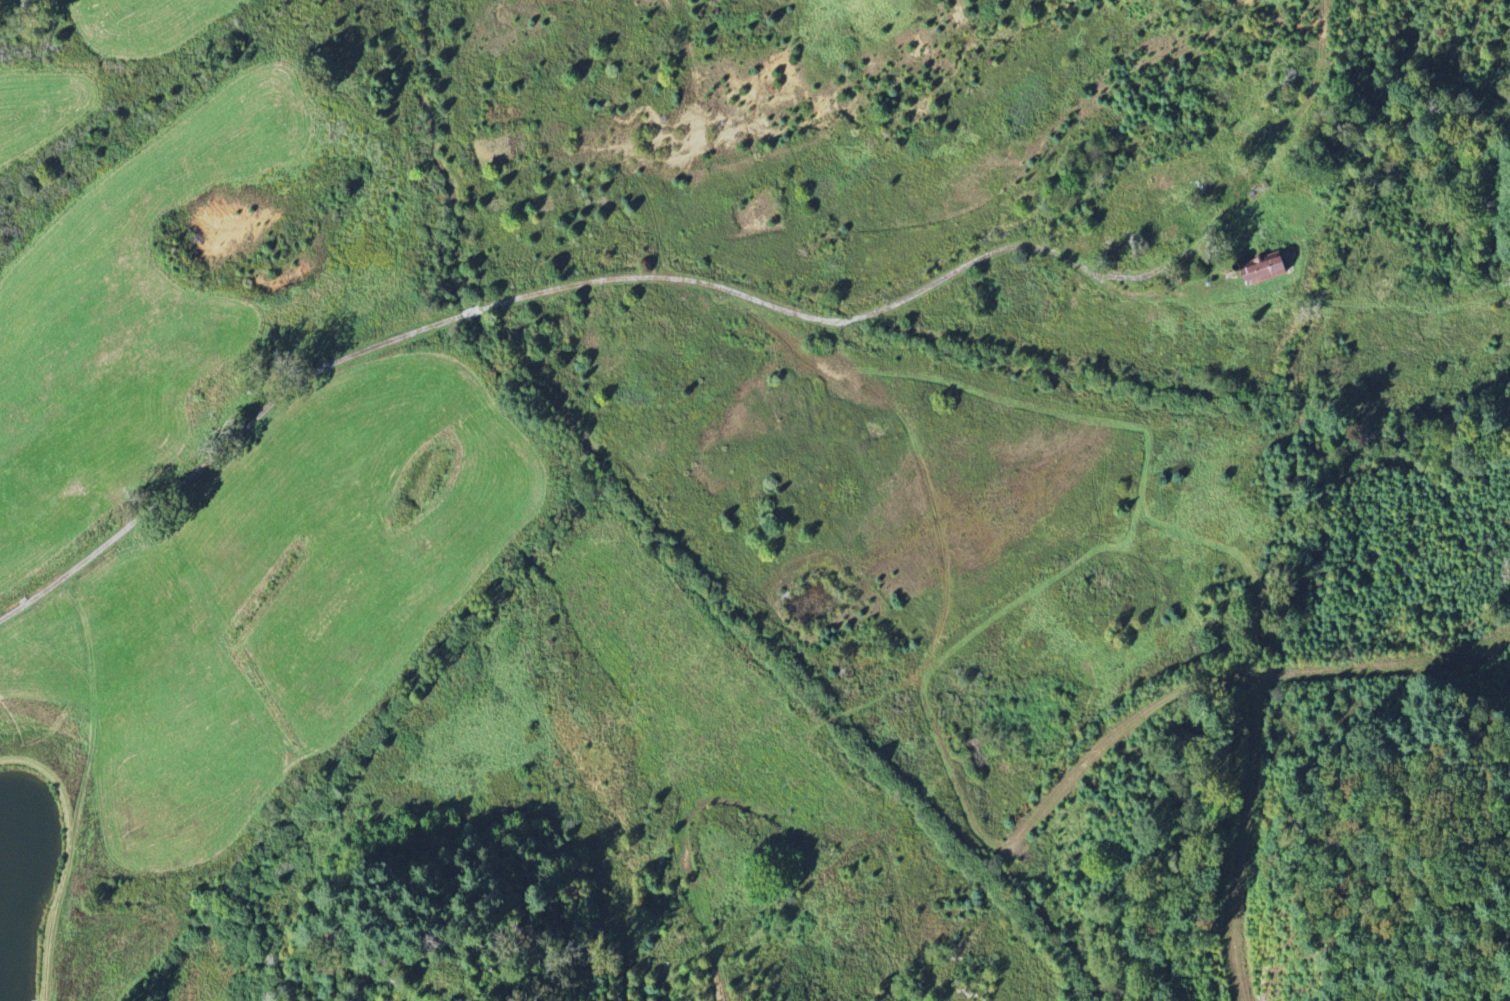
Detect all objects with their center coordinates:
road: (578, 222)
building: (1265, 265)
road: (1175, 701)
road: (1245, 839)

